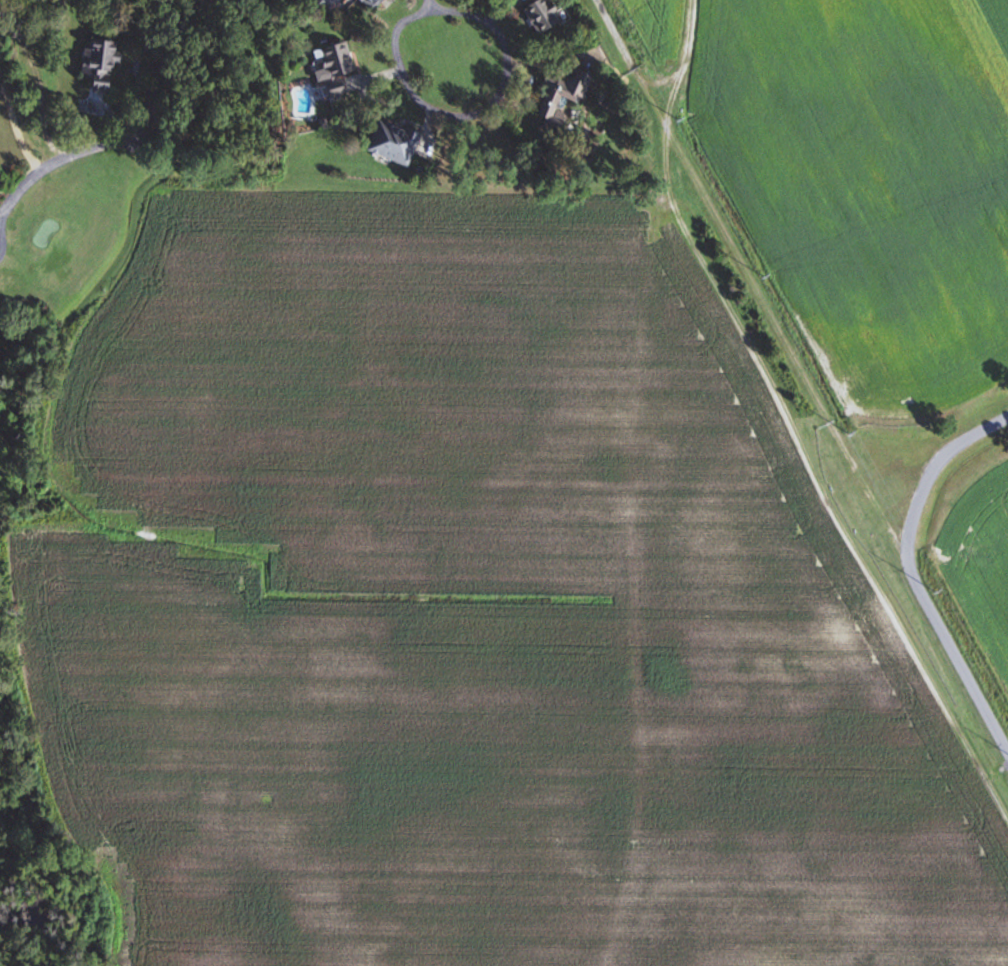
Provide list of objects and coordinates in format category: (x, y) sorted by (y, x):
building: (526, 0)
building: (376, 4)
road: (205, 5)
road: (431, 9)
building: (544, 16)
road: (433, 18)
road: (630, 60)
road: (682, 61)
building: (103, 65)
building: (335, 69)
building: (564, 97)
road: (14, 120)
building: (397, 143)
road: (135, 144)
road: (0, 246)
road: (911, 573)

